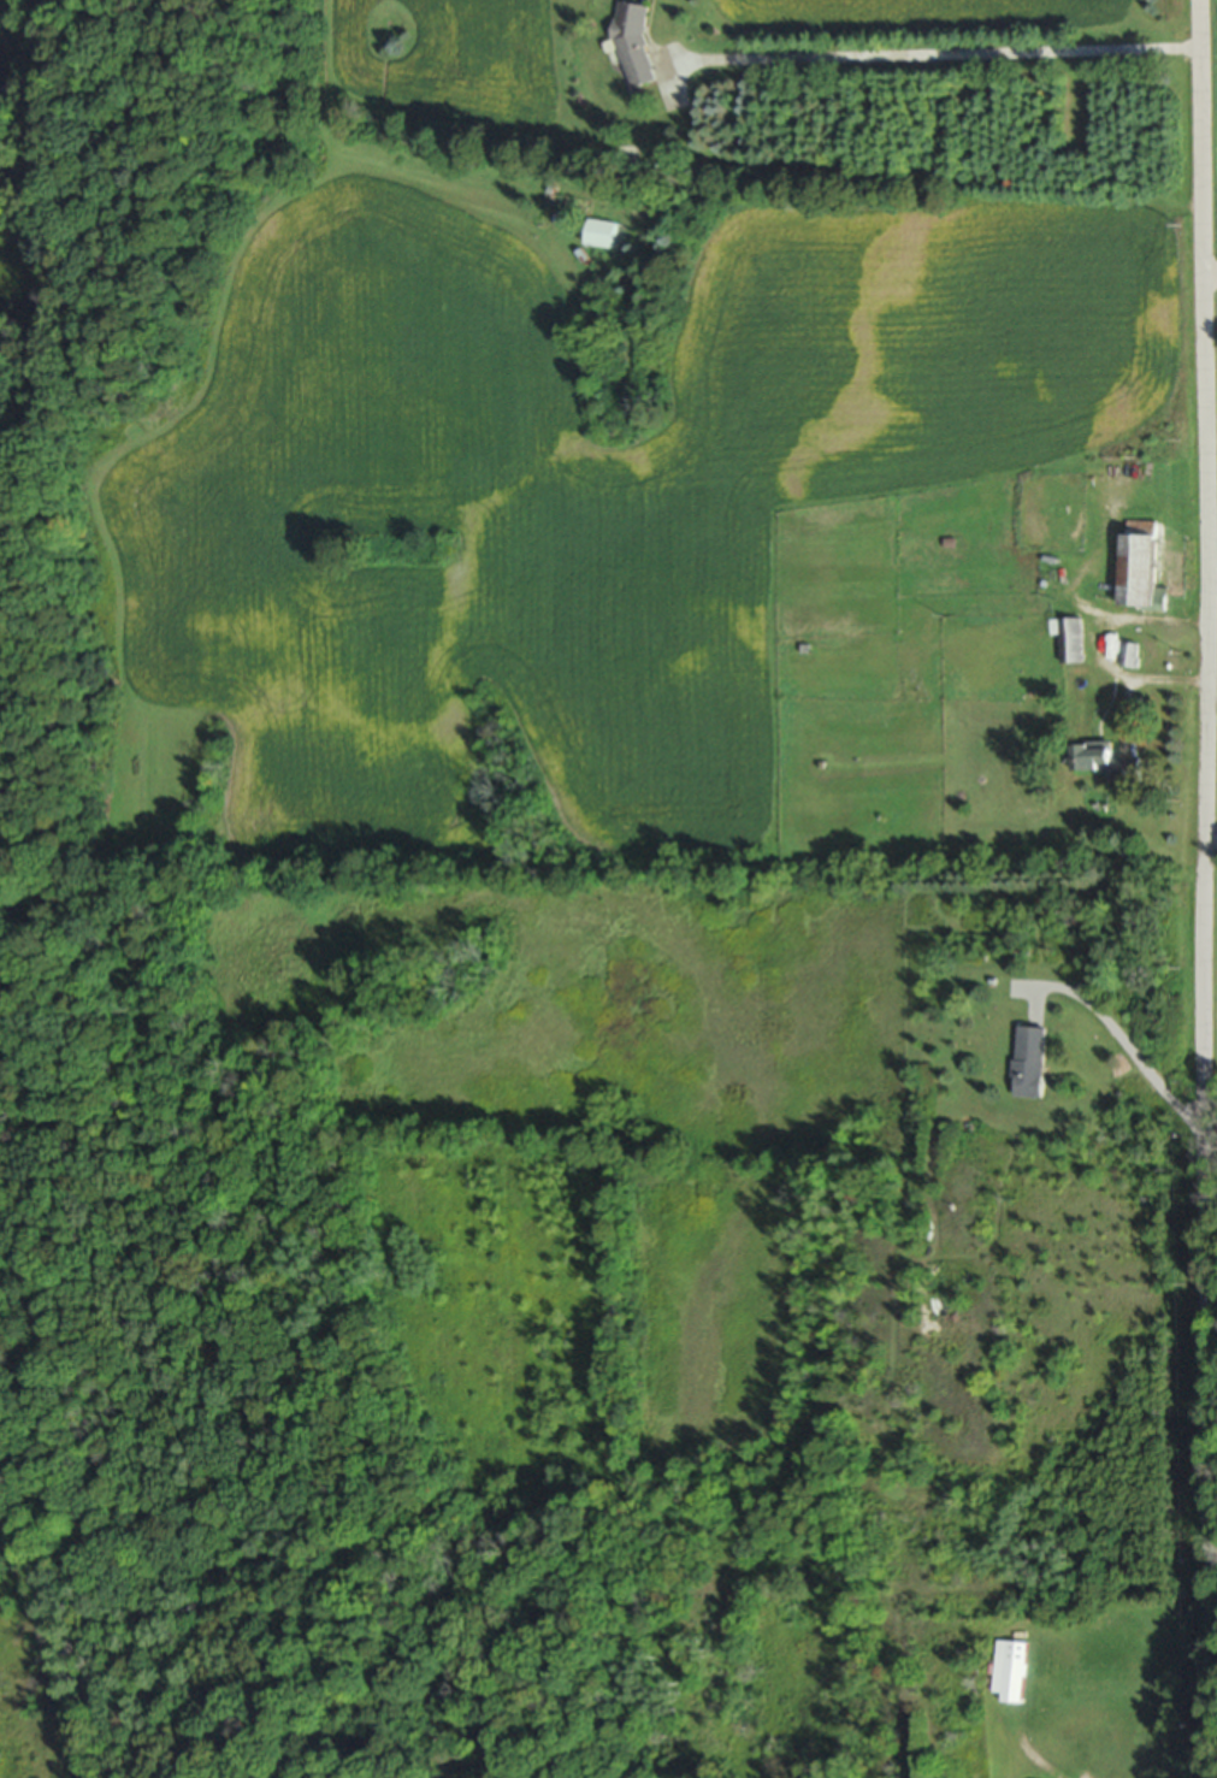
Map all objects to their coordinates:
building: (633, 42)
road: (932, 53)
building: (598, 231)
building: (1140, 562)
building: (1067, 637)
building: (1127, 652)
building: (1103, 758)
road: (1209, 837)
road: (1198, 888)
building: (1027, 1059)
building: (1004, 1667)

